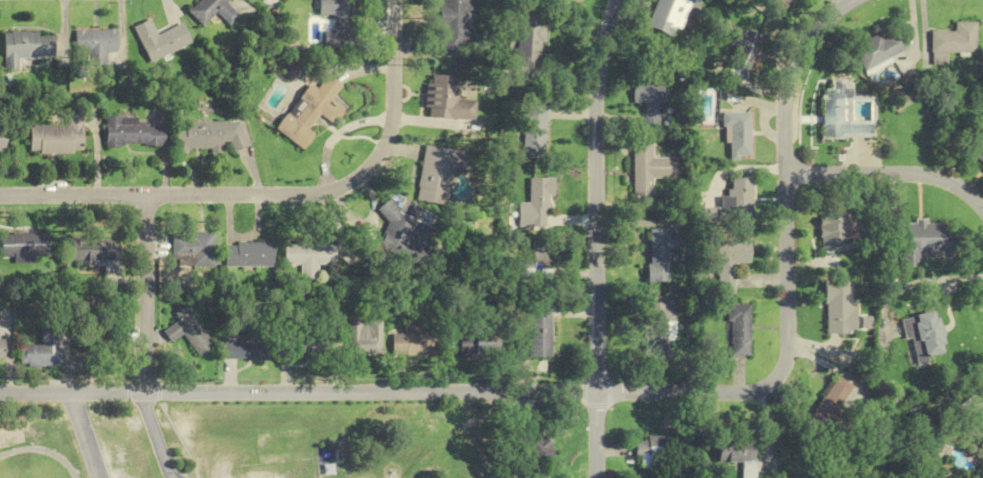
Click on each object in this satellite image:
building: (777, 3)
building: (214, 11)
building: (673, 16)
building: (337, 23)
building: (454, 27)
building: (955, 39)
building: (163, 40)
building: (96, 45)
building: (26, 46)
building: (527, 49)
building: (743, 49)
building: (879, 51)
building: (446, 99)
building: (648, 103)
building: (313, 112)
building: (841, 113)
building: (532, 126)
building: (132, 132)
building: (737, 134)
building: (209, 136)
building: (56, 137)
building: (1, 139)
building: (976, 147)
building: (646, 168)
road: (890, 172)
building: (436, 175)
building: (537, 192)
road: (275, 193)
building: (735, 202)
building: (834, 229)
building: (406, 237)
road: (594, 237)
building: (919, 241)
building: (24, 246)
building: (193, 247)
building: (97, 253)
building: (248, 254)
building: (656, 255)
building: (310, 256)
building: (539, 258)
building: (724, 260)
road: (144, 293)
building: (836, 307)
building: (656, 322)
building: (538, 330)
building: (736, 330)
building: (186, 331)
building: (921, 335)
building: (364, 336)
building: (101, 338)
building: (411, 341)
building: (478, 343)
building: (302, 345)
building: (44, 347)
building: (244, 347)
building: (1, 348)
road: (593, 391)
building: (825, 406)
building: (967, 415)
road: (154, 434)
road: (84, 435)
building: (538, 444)
building: (982, 445)
track: (42, 451)
building: (658, 451)
building: (737, 453)
parking lot: (175, 475)

